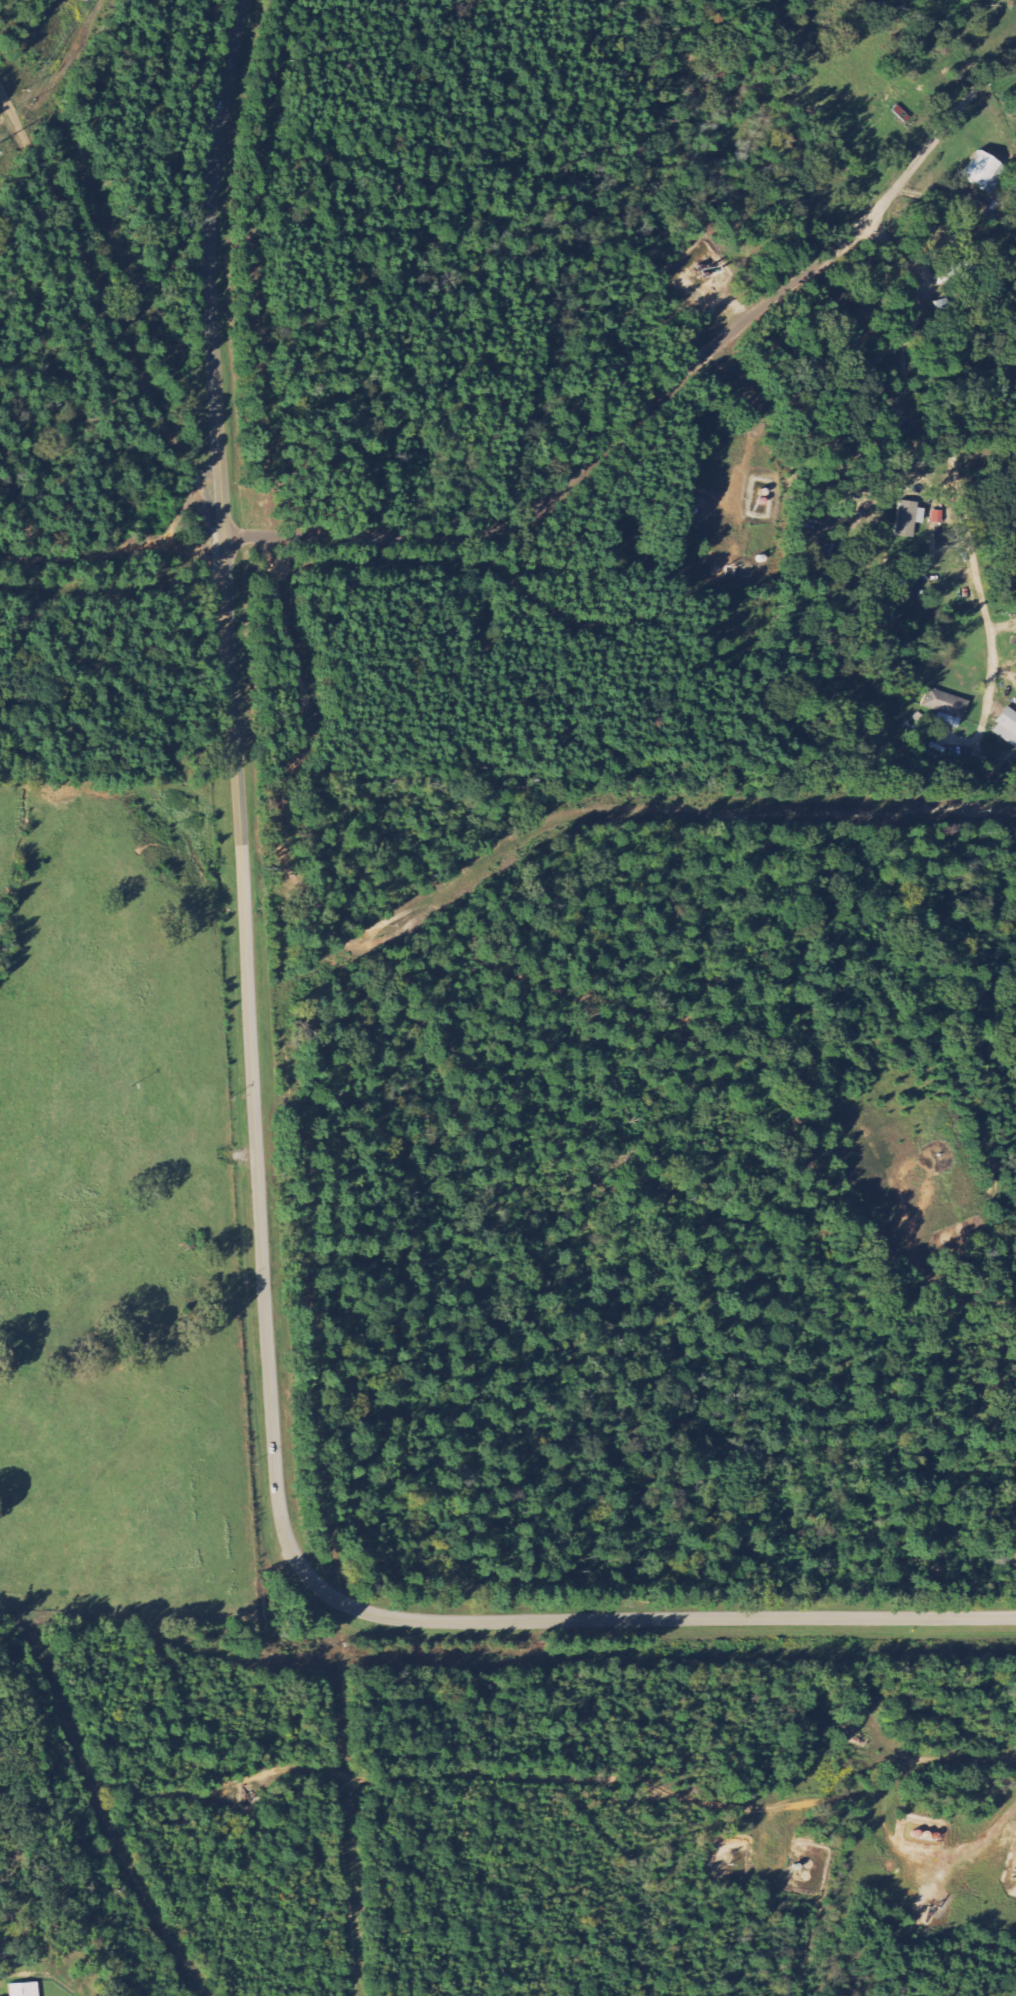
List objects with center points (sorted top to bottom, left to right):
power tower: (80, 3)
road: (998, 69)
building: (982, 173)
road: (111, 310)
road: (648, 412)
road: (956, 458)
road: (182, 517)
building: (909, 519)
road: (114, 552)
building: (946, 708)
building: (1007, 727)
road: (257, 1149)
road: (628, 1778)
building: (25, 1990)

